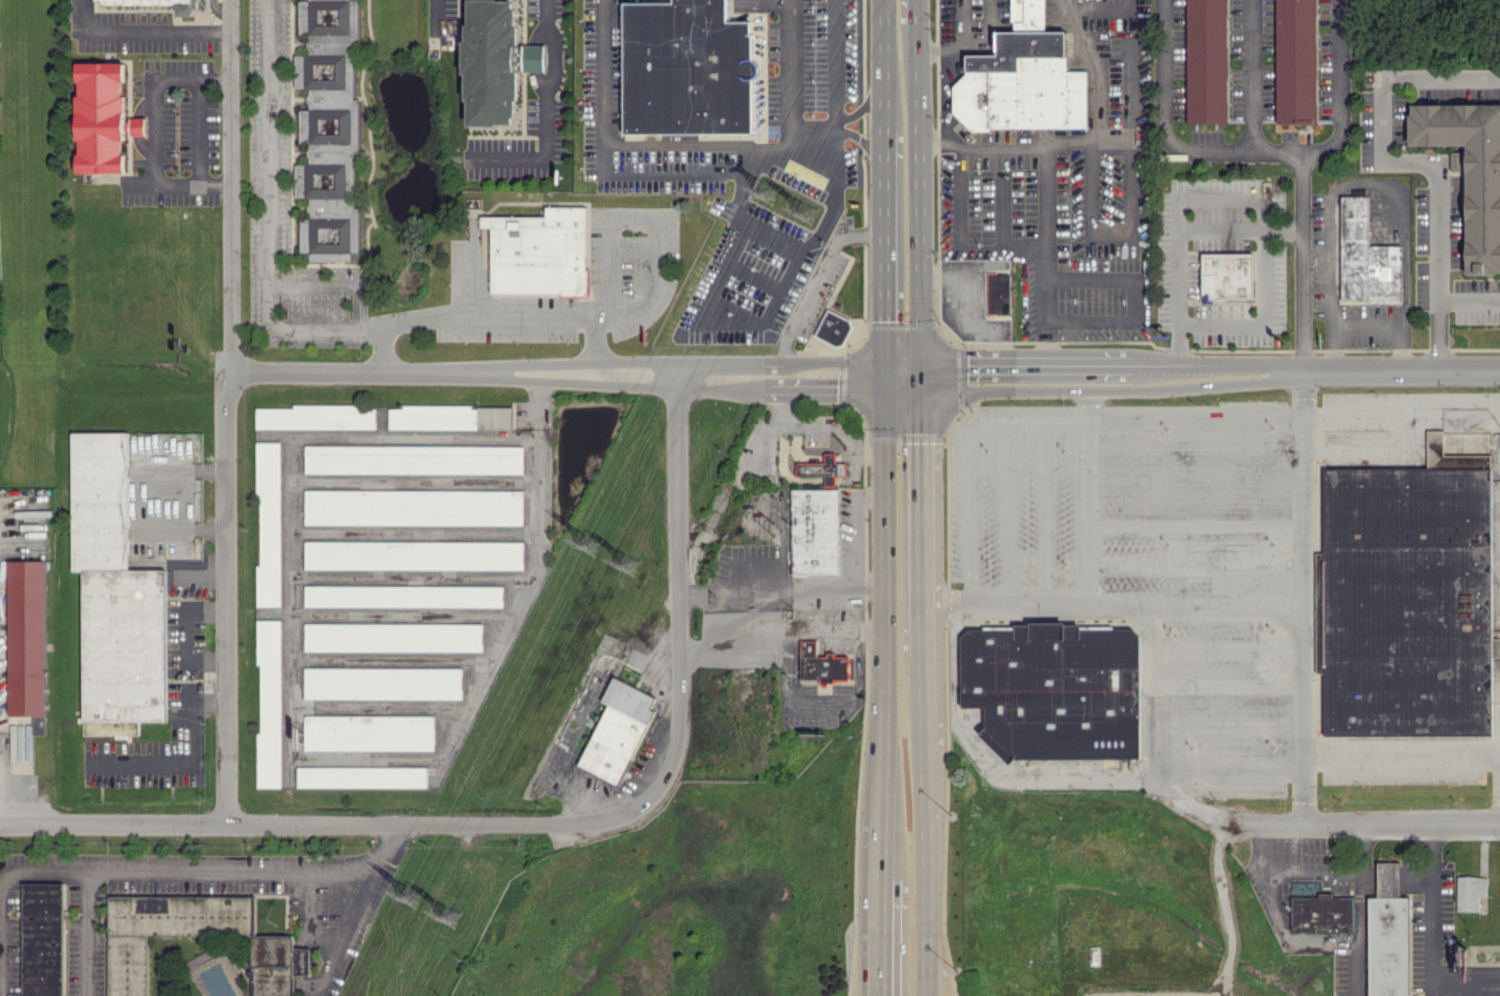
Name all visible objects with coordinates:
road: (1097, 5)
building: (188, 9)
road: (902, 15)
road: (432, 16)
road: (145, 30)
road: (953, 45)
building: (533, 57)
building: (491, 61)
building: (1206, 61)
building: (1296, 61)
road: (832, 66)
road: (902, 66)
building: (686, 68)
road: (785, 71)
road: (1250, 73)
building: (1022, 78)
road: (863, 104)
road: (541, 112)
road: (902, 116)
building: (99, 117)
building: (136, 125)
building: (328, 129)
road: (200, 130)
road: (155, 131)
road: (1097, 135)
road: (902, 136)
road: (869, 141)
road: (931, 143)
road: (1174, 146)
road: (649, 147)
road: (1376, 155)
building: (1469, 170)
road: (655, 174)
road: (1298, 174)
road: (1365, 183)
road: (902, 188)
road: (1237, 196)
power tower: (766, 199)
road: (264, 216)
power tower: (803, 217)
road: (632, 218)
road: (1237, 229)
road: (791, 242)
road: (1001, 246)
building: (538, 251)
building: (1365, 257)
road: (472, 267)
road: (816, 274)
building: (1226, 275)
road: (329, 284)
road: (651, 284)
building: (997, 292)
road: (604, 296)
road: (1467, 300)
road: (902, 304)
road: (465, 314)
road: (718, 317)
building: (833, 328)
road: (1368, 329)
road: (1434, 335)
road: (507, 371)
road: (1201, 372)
road: (842, 375)
traffic signals: (902, 375)
road: (1084, 392)
road: (1445, 399)
road: (1194, 409)
road: (231, 412)
building: (316, 416)
building: (449, 416)
road: (1045, 425)
road: (835, 427)
road: (1401, 431)
road: (1194, 447)
building: (412, 458)
building: (822, 469)
road: (185, 470)
road: (734, 471)
road: (1194, 486)
road: (869, 496)
road: (967, 503)
building: (412, 506)
road: (1085, 508)
road: (919, 512)
road: (1007, 516)
road: (1044, 516)
road: (1194, 524)
building: (267, 525)
road: (184, 528)
road: (884, 528)
building: (814, 531)
road: (853, 538)
power tower: (591, 544)
building: (412, 554)
road: (1194, 563)
power tower: (627, 566)
parking lot: (1182, 572)
road: (868, 580)
road: (766, 585)
building: (114, 595)
building: (401, 595)
road: (1303, 599)
building: (1404, 599)
road: (680, 607)
road: (1111, 608)
road: (182, 633)
building: (392, 636)
building: (26, 637)
road: (1226, 650)
building: (822, 664)
building: (381, 682)
road: (1227, 689)
road: (783, 690)
building: (1054, 691)
road: (1150, 694)
road: (922, 701)
building: (268, 703)
road: (1227, 726)
building: (616, 730)
building: (367, 732)
road: (291, 751)
road: (881, 751)
road: (1402, 756)
road: (193, 761)
road: (1227, 769)
building: (360, 776)
road: (1064, 780)
road: (312, 823)
road: (1402, 826)
road: (896, 839)
road: (879, 851)
road: (231, 872)
road: (924, 872)
road: (1368, 877)
road: (1388, 877)
road: (1415, 877)
road: (84, 887)
building: (1470, 892)
power tower: (410, 900)
road: (362, 906)
road: (1358, 907)
power tower: (452, 913)
building: (1322, 913)
road: (1278, 917)
building: (1388, 935)
road: (1430, 938)
building: (42, 939)
road: (879, 939)
building: (272, 941)
road: (0, 979)

